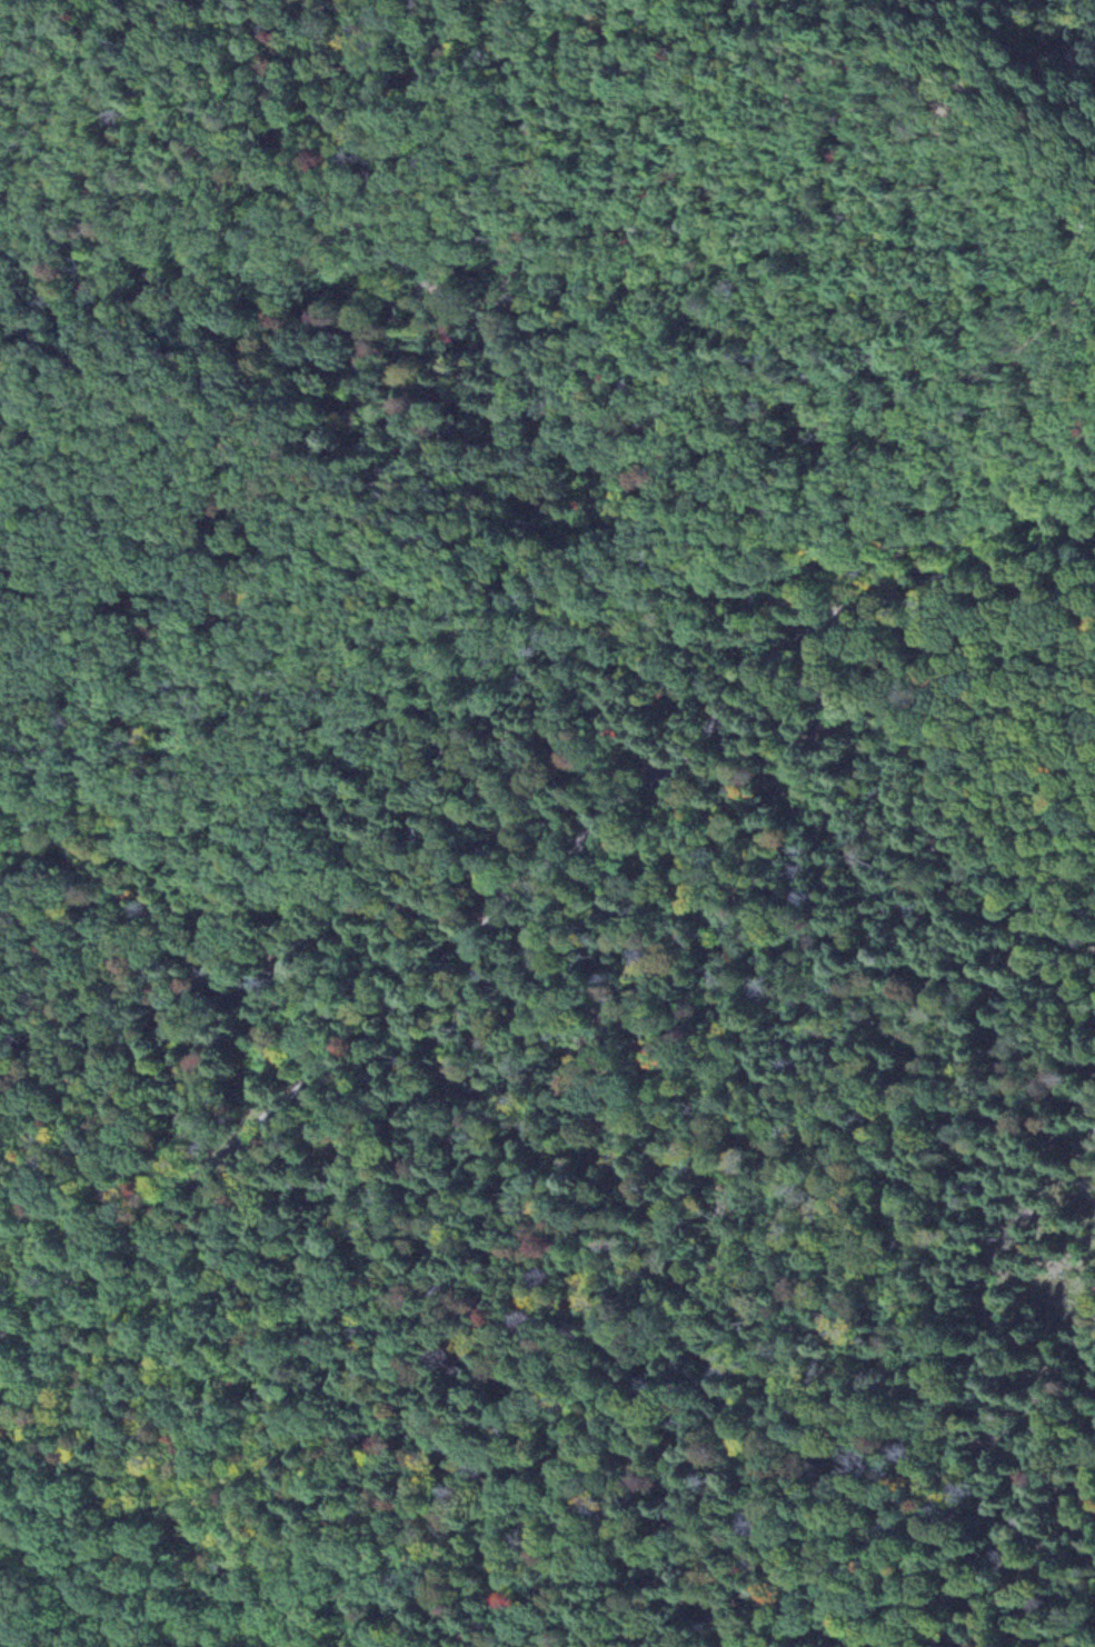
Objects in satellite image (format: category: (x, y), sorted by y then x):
road: (516, 894)
road: (18, 1605)

